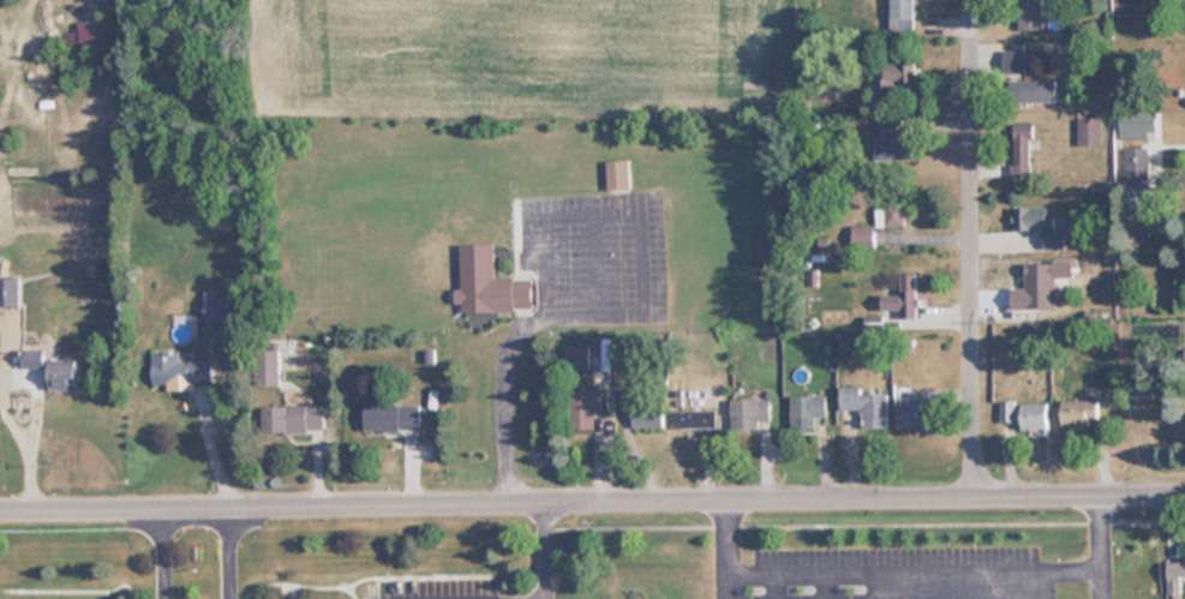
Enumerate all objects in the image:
building: (903, 14)
building: (1033, 14)
building: (1018, 59)
building: (900, 74)
building: (1034, 91)
building: (1139, 124)
building: (1089, 131)
building: (896, 137)
building: (1024, 150)
building: (1139, 162)
building: (618, 174)
building: (891, 214)
building: (1041, 226)
building: (867, 235)
road: (977, 248)
building: (1035, 276)
building: (490, 283)
building: (8, 292)
building: (904, 298)
building: (216, 306)
building: (579, 358)
building: (32, 359)
building: (269, 367)
building: (180, 371)
building: (62, 373)
road: (36, 389)
building: (867, 406)
building: (585, 408)
building: (644, 411)
building: (807, 411)
building: (916, 411)
building: (752, 413)
building: (1082, 414)
building: (1028, 415)
building: (295, 418)
building: (393, 418)
building: (696, 419)
road: (213, 443)
road: (592, 501)
road: (1097, 547)
road: (543, 550)
road: (226, 553)
road: (158, 555)
road: (880, 571)
building: (1175, 576)

